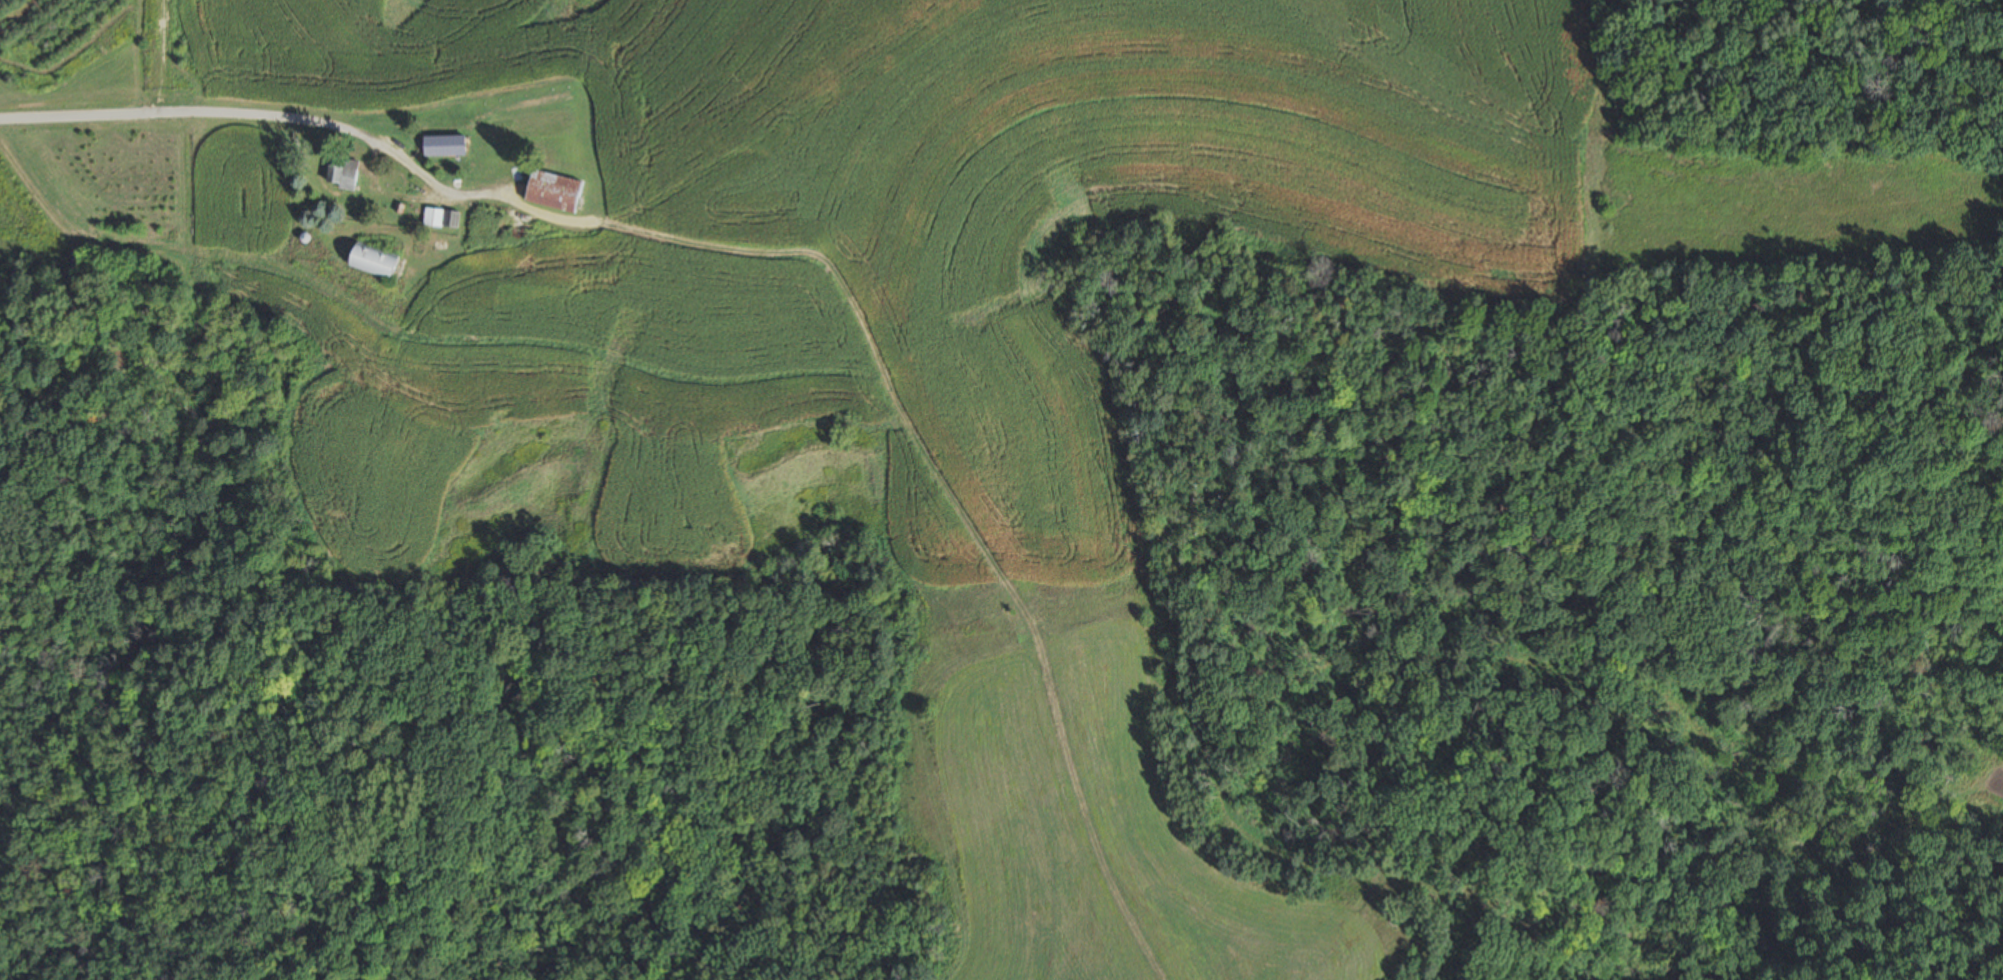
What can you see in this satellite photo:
road: (171, 115)
building: (443, 146)
building: (341, 173)
building: (551, 192)
building: (440, 218)
building: (484, 224)
building: (370, 260)

